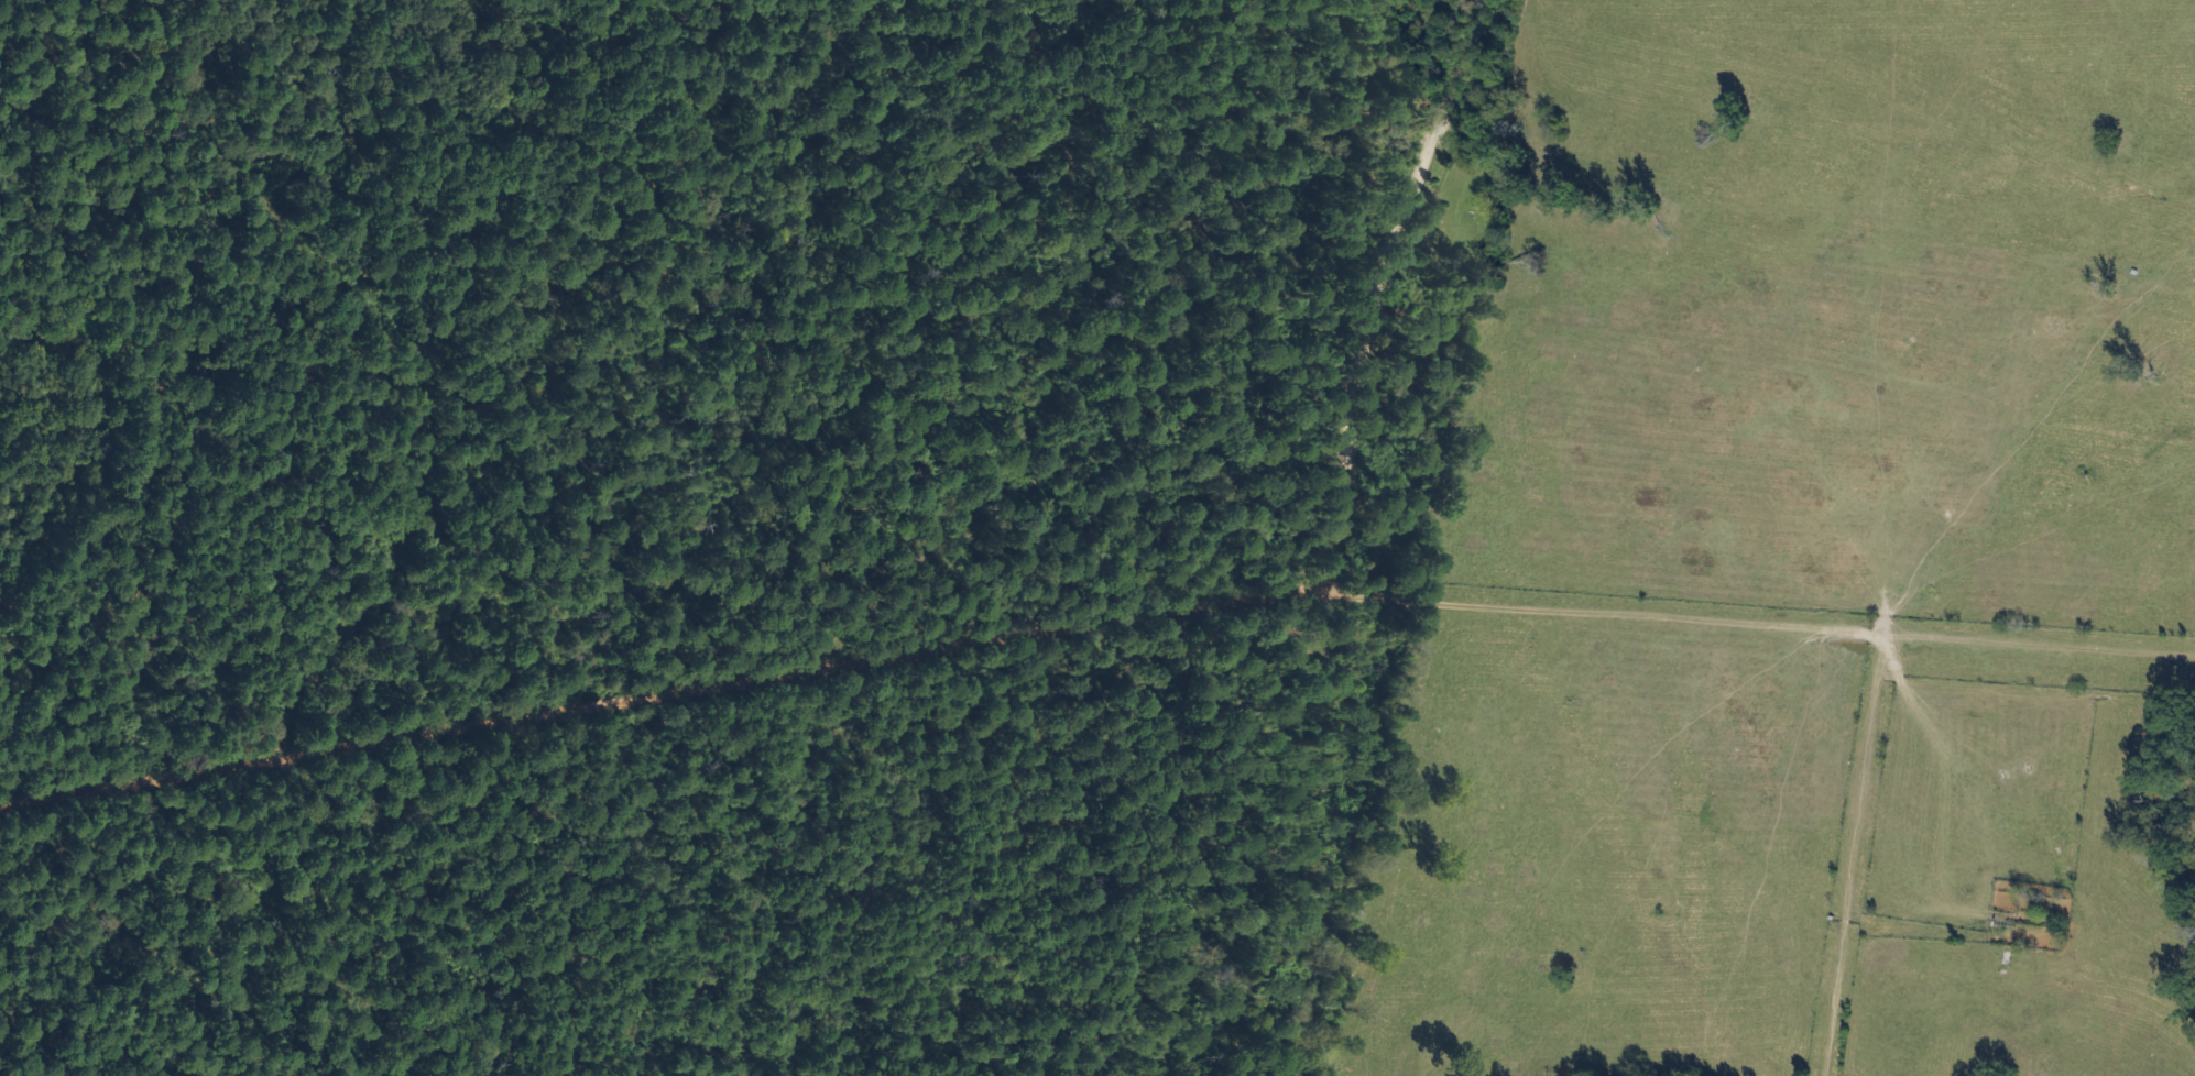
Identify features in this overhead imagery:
park: (1470, 216)
road: (1400, 303)
road: (1093, 624)

